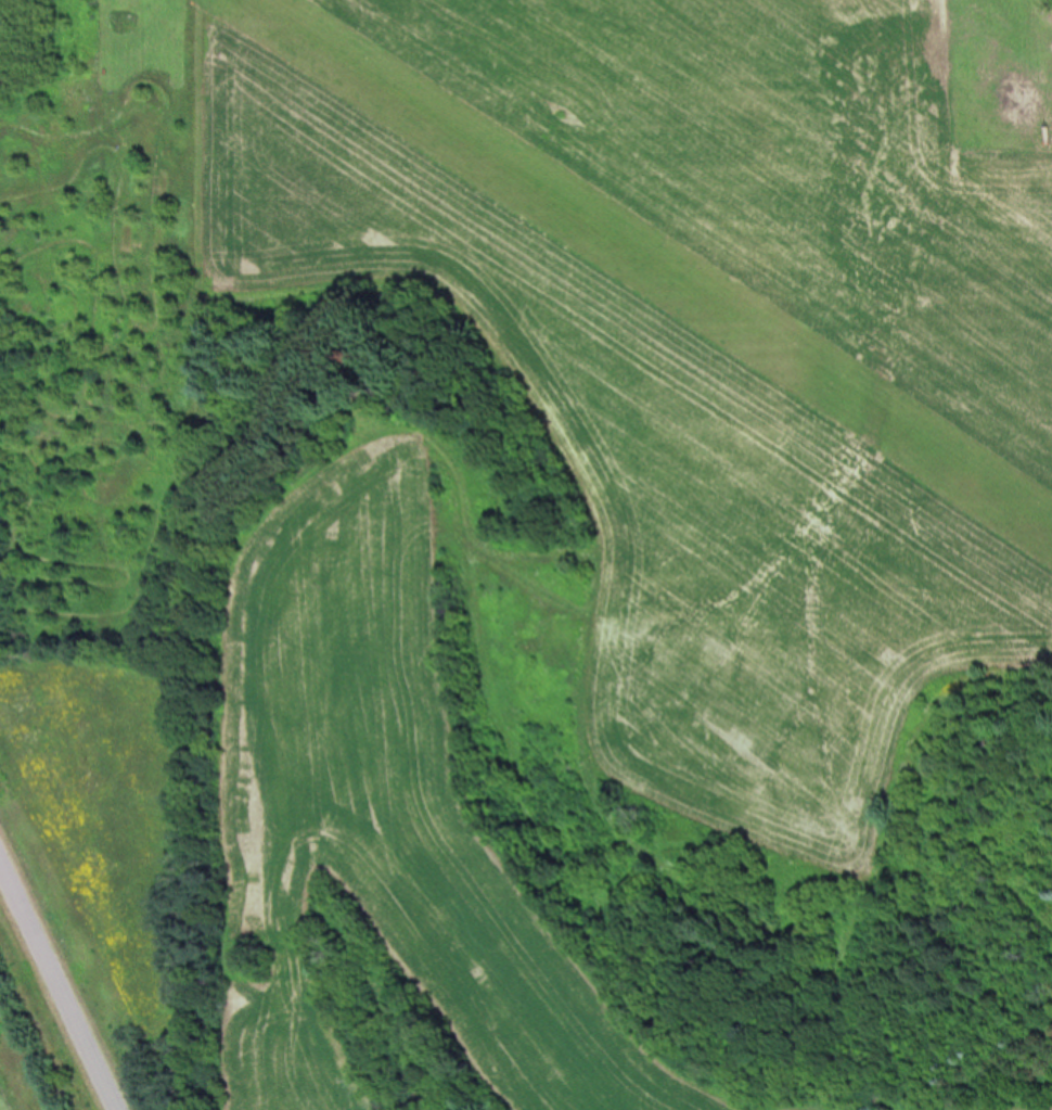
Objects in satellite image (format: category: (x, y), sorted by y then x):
crop: (631, 594)
road: (56, 988)

